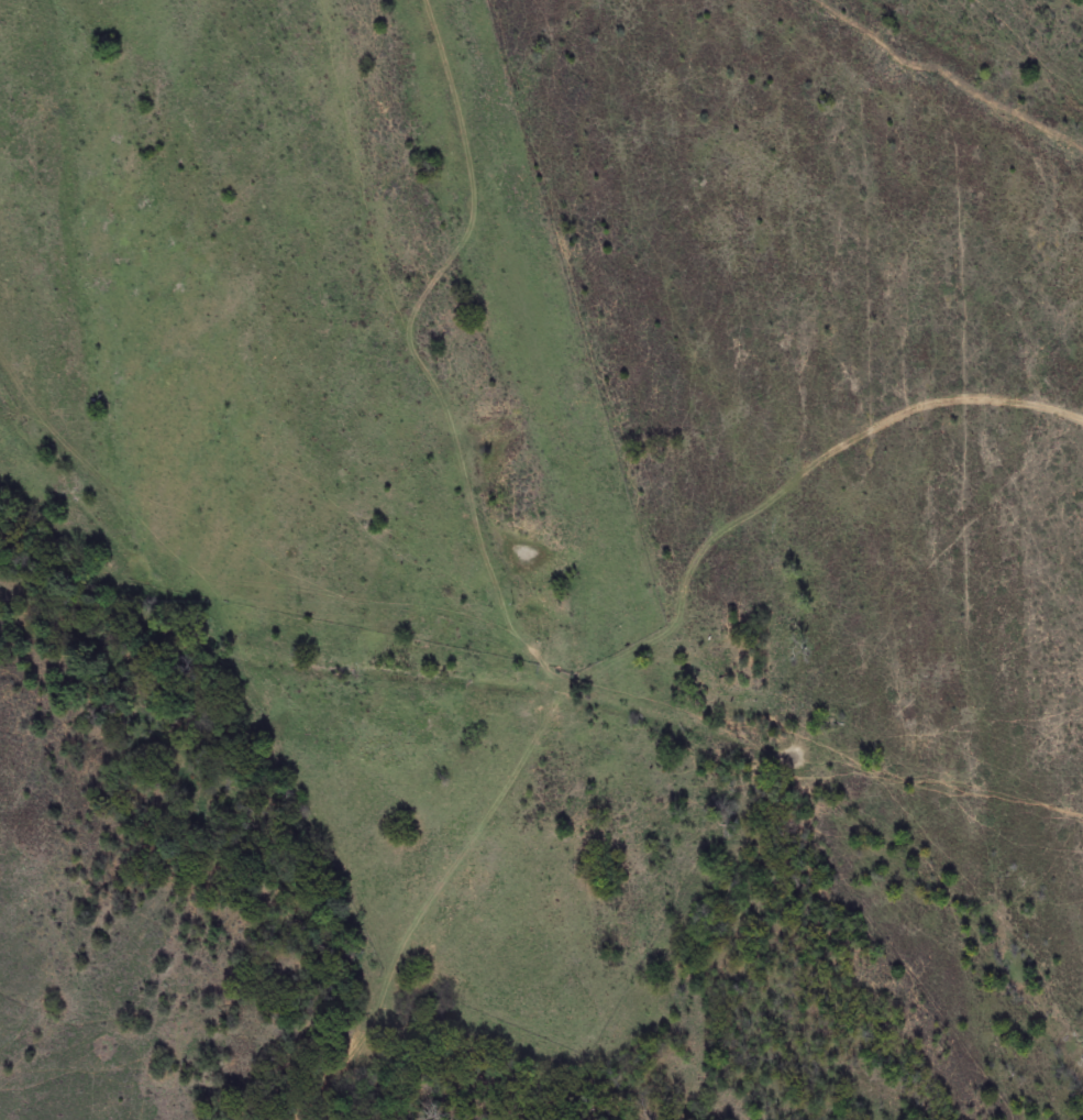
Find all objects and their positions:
road: (380, 1029)

